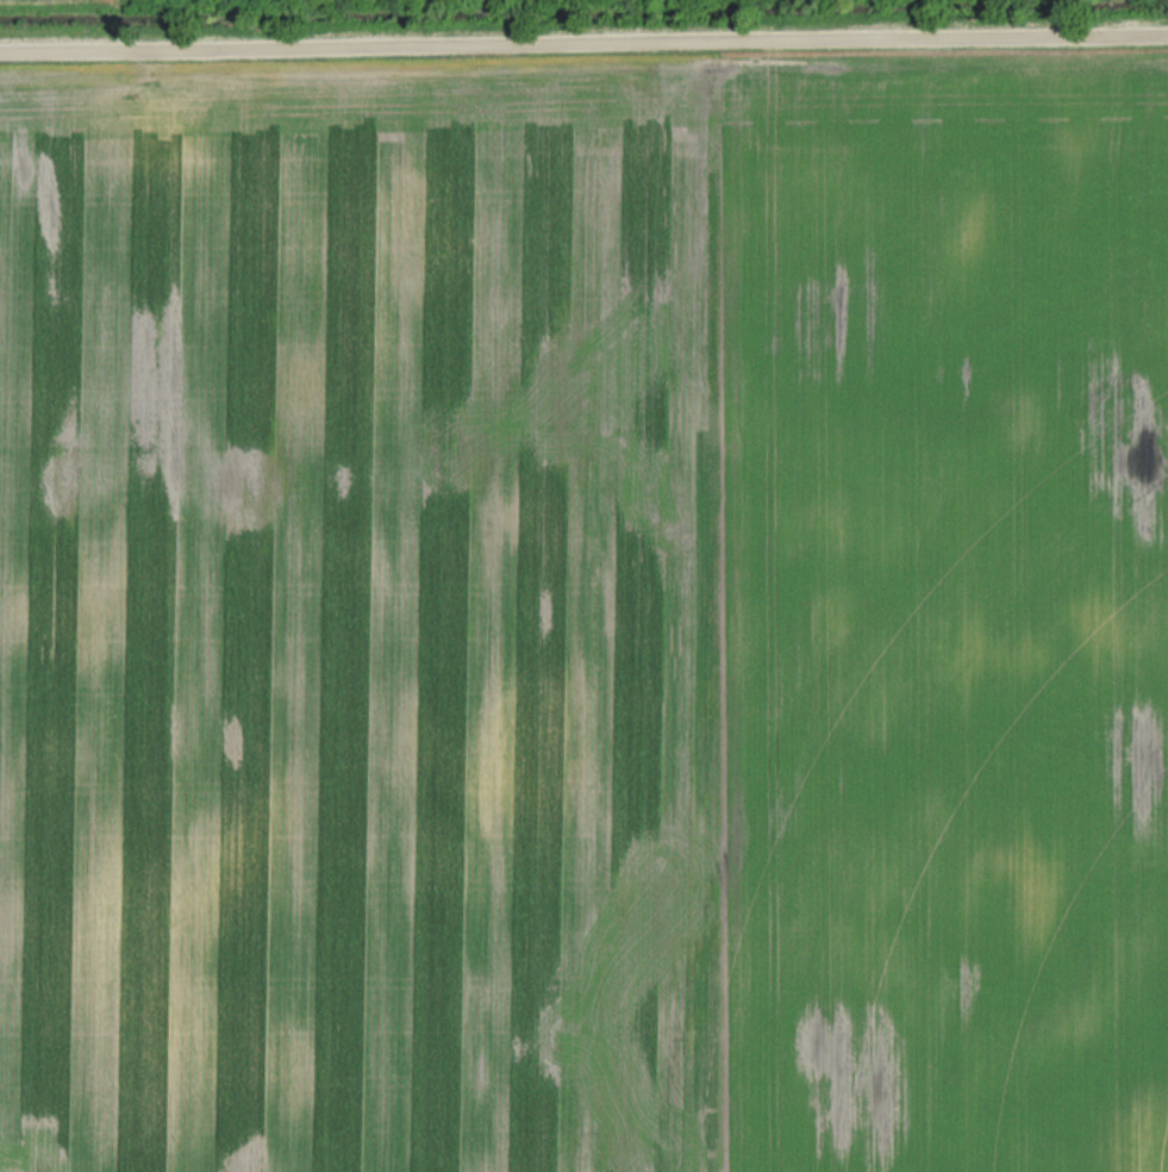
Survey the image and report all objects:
road: (583, 43)

